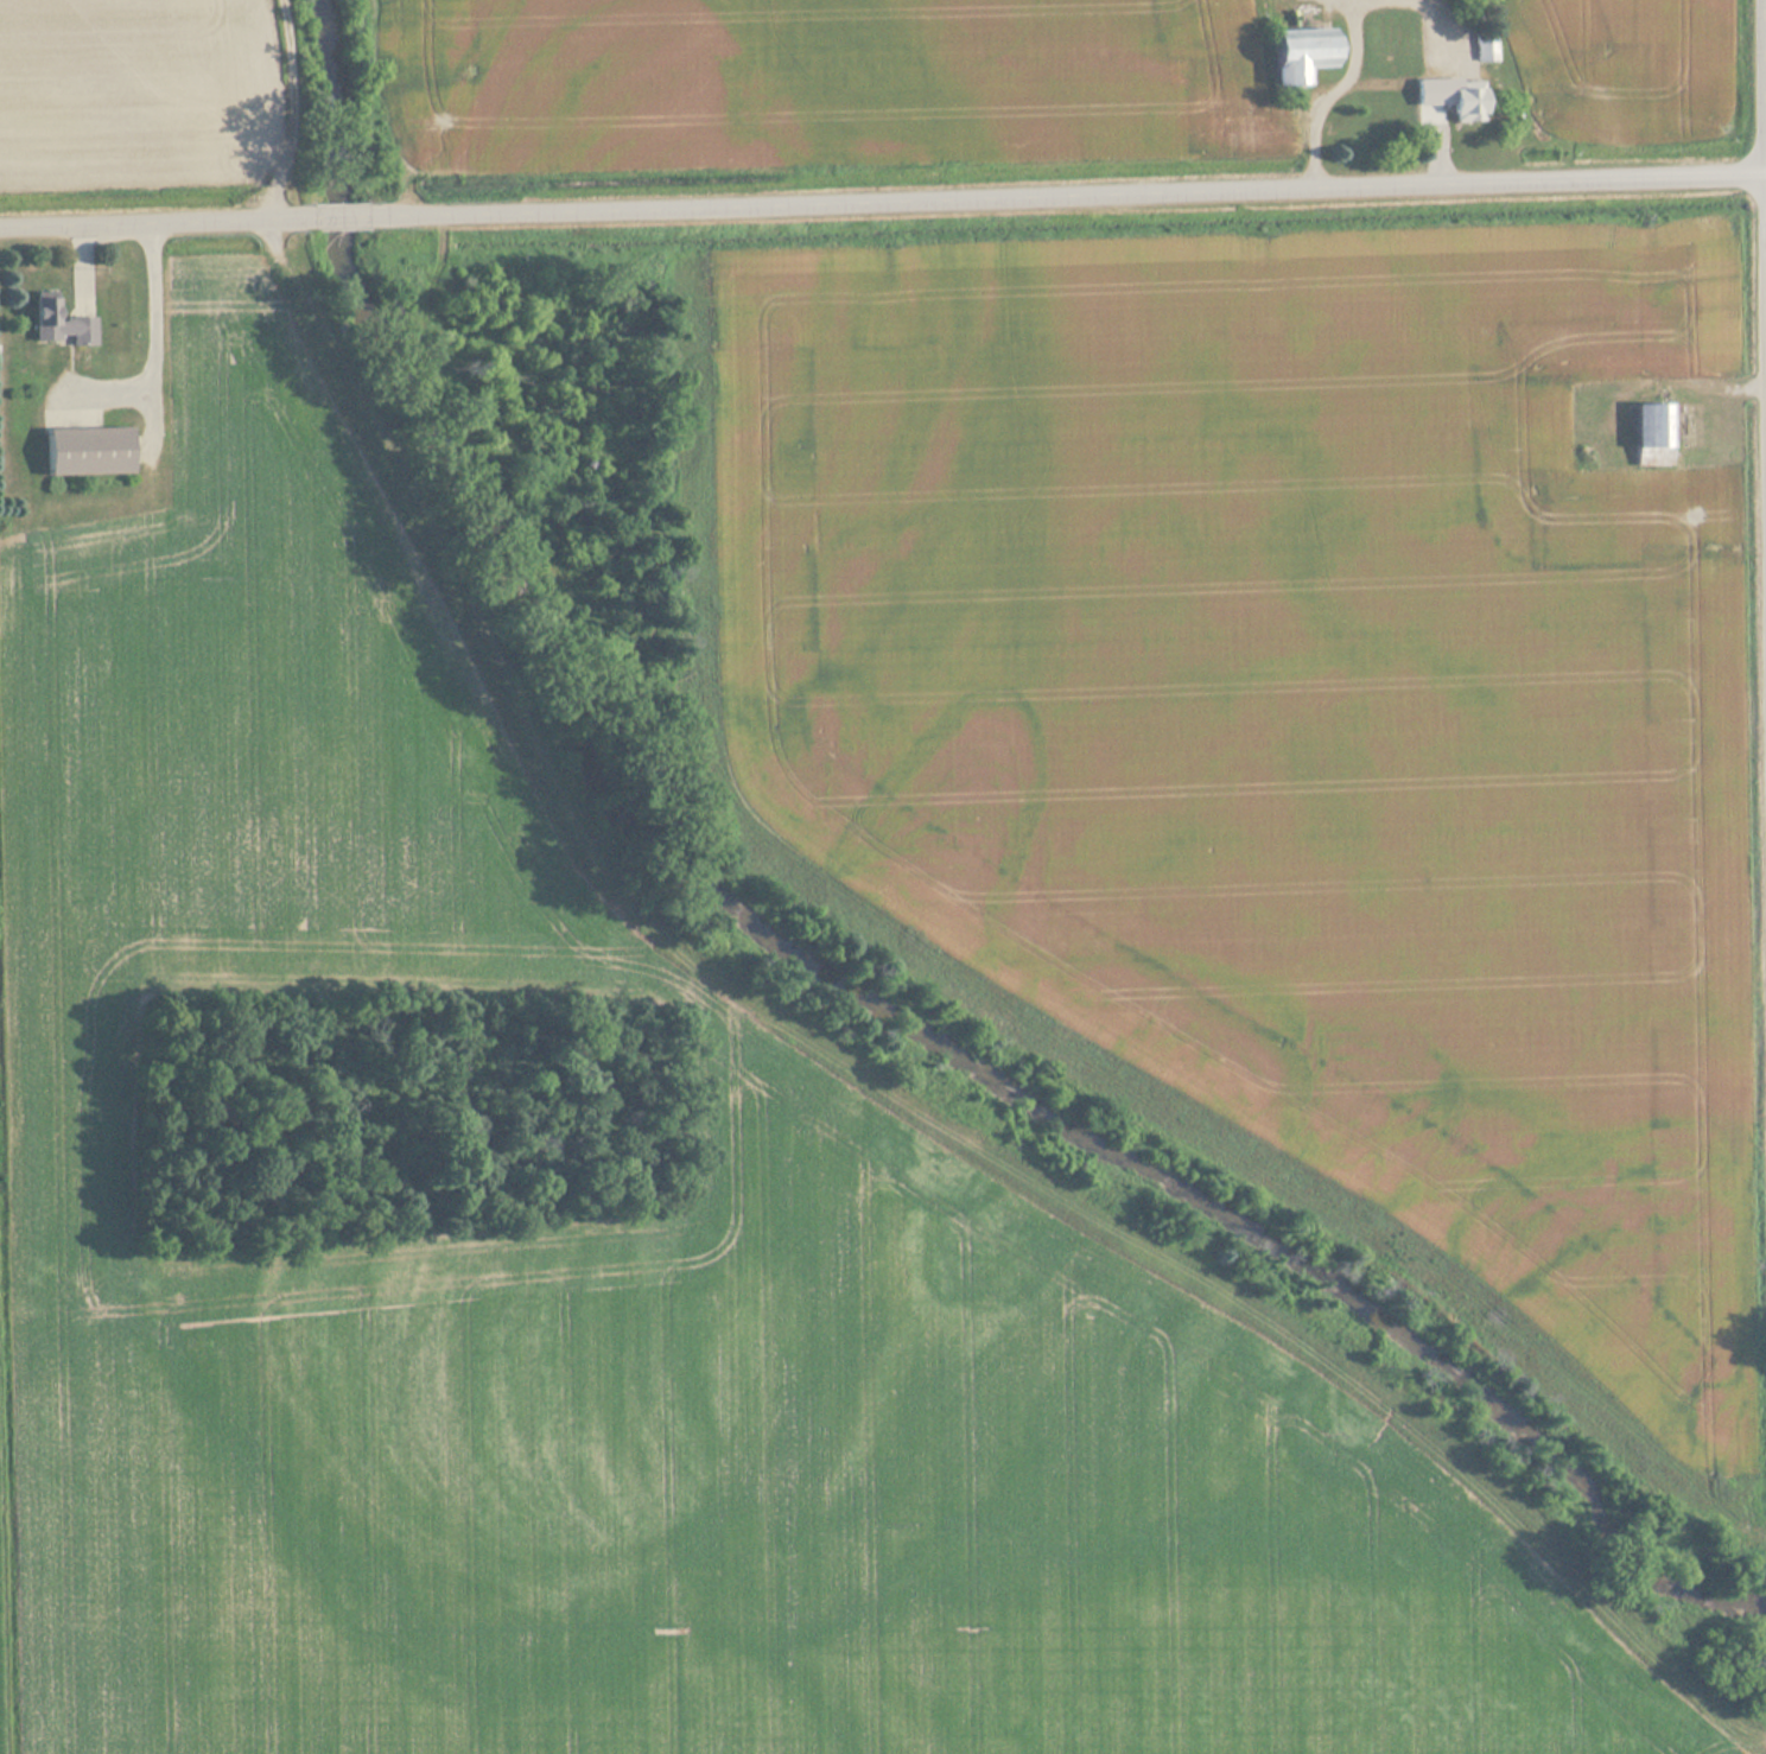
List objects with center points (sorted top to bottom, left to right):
building: (1486, 51)
building: (1303, 55)
building: (1468, 103)
road: (1074, 196)
road: (337, 211)
road: (146, 217)
building: (58, 323)
building: (1653, 425)
building: (85, 450)
river: (824, 970)

